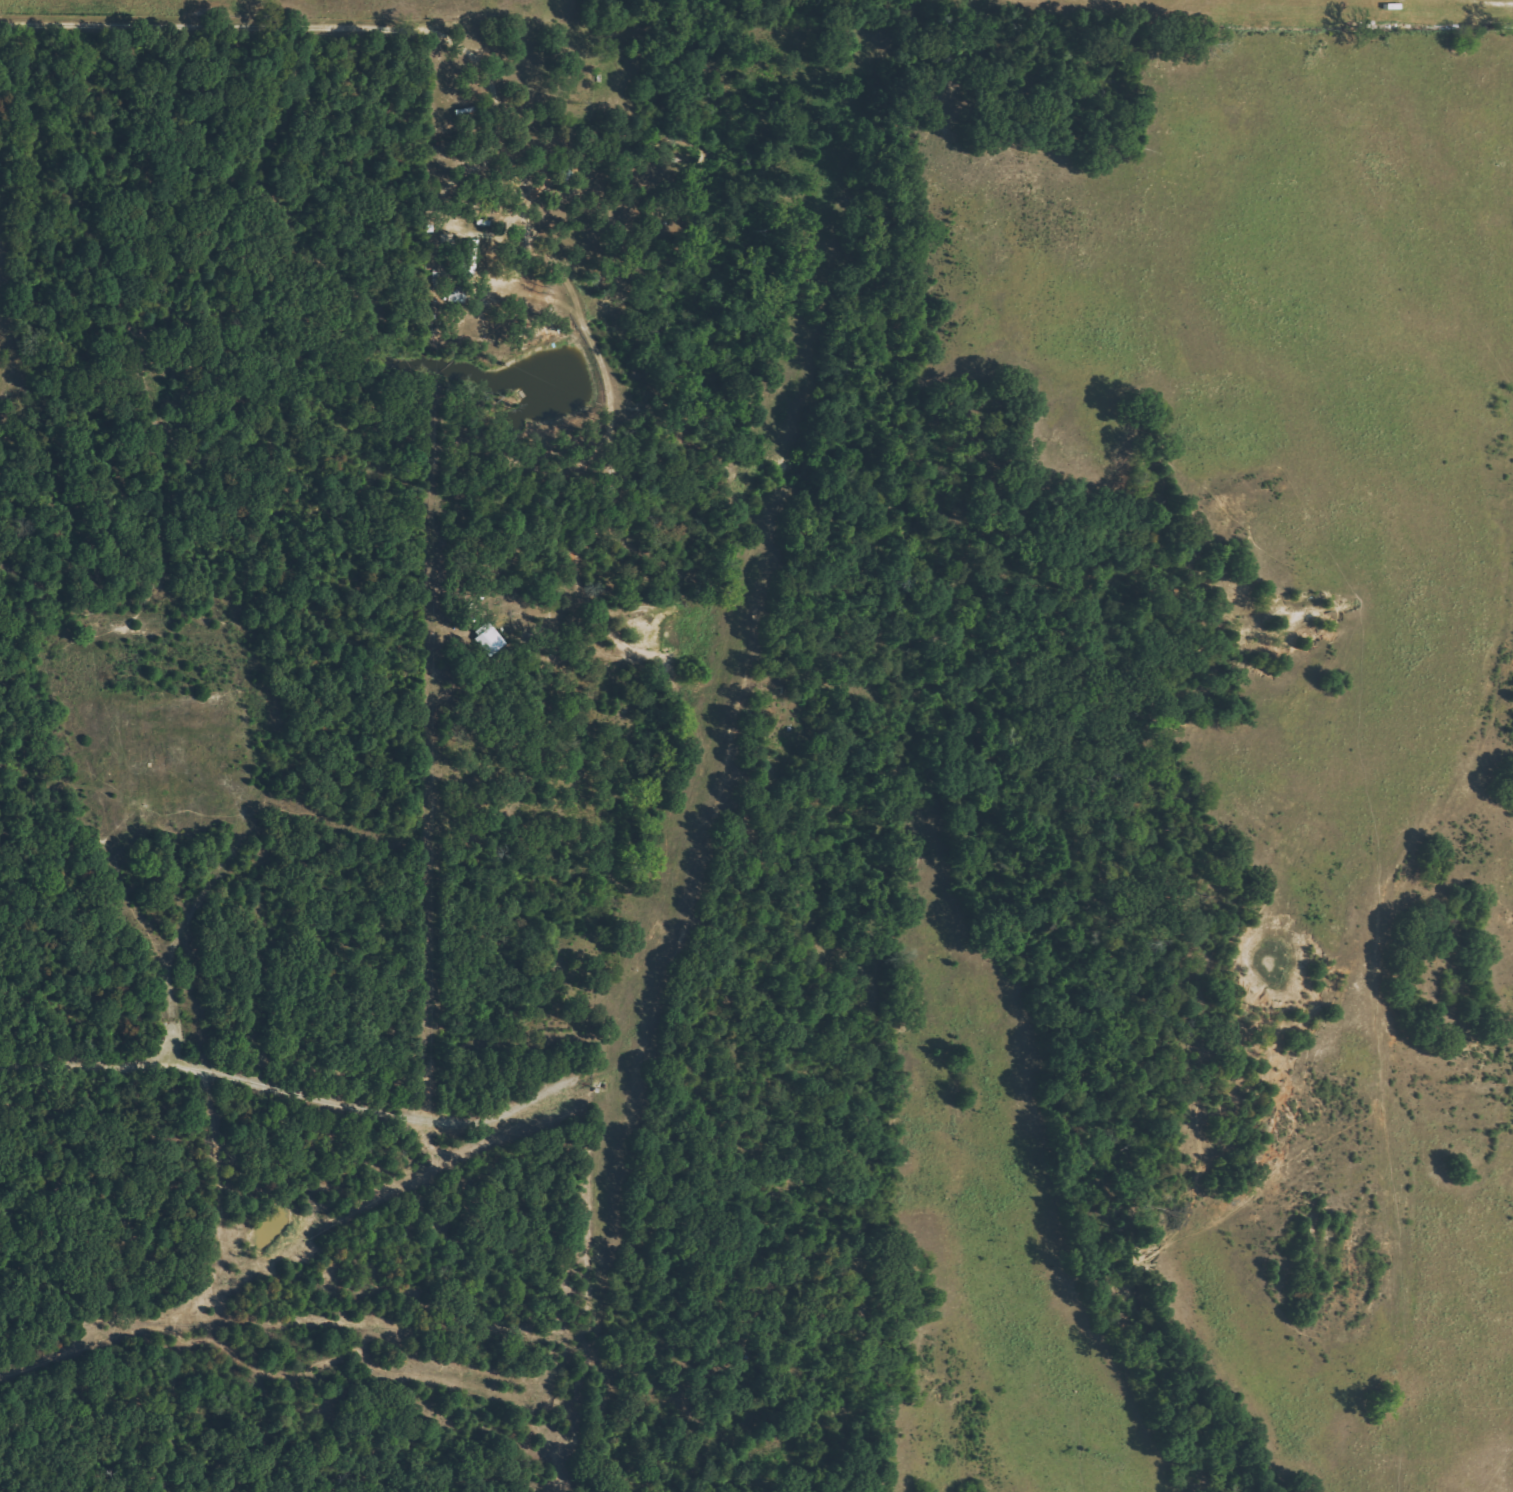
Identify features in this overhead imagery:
road: (172, 997)

